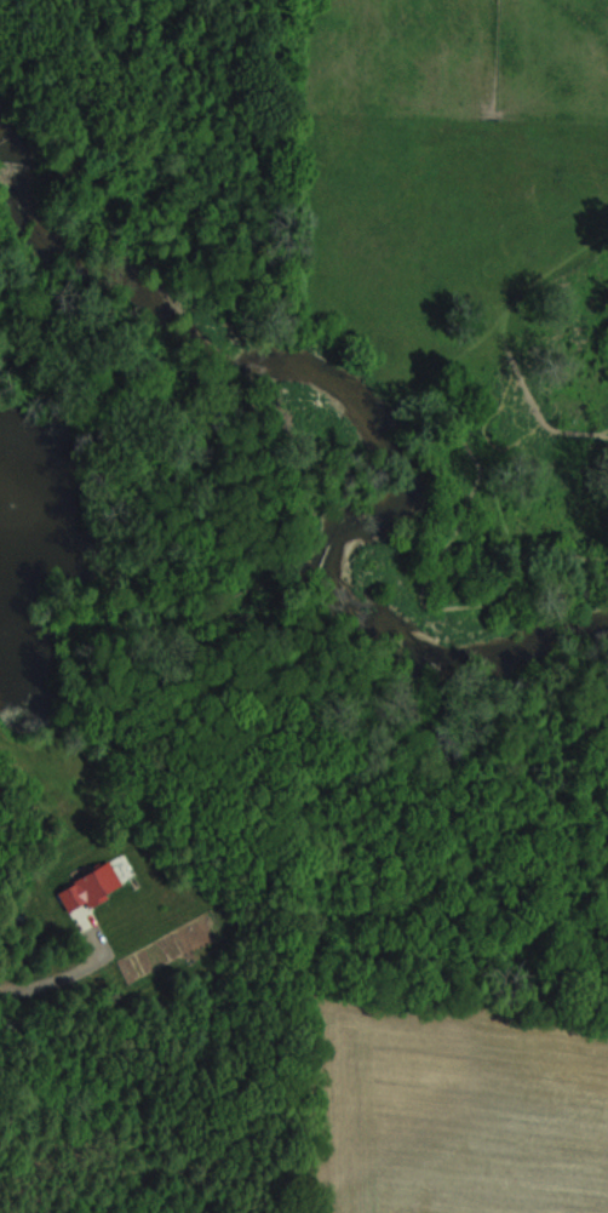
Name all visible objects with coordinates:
river: (373, 413)
road: (48, 985)
crop: (472, 1105)

